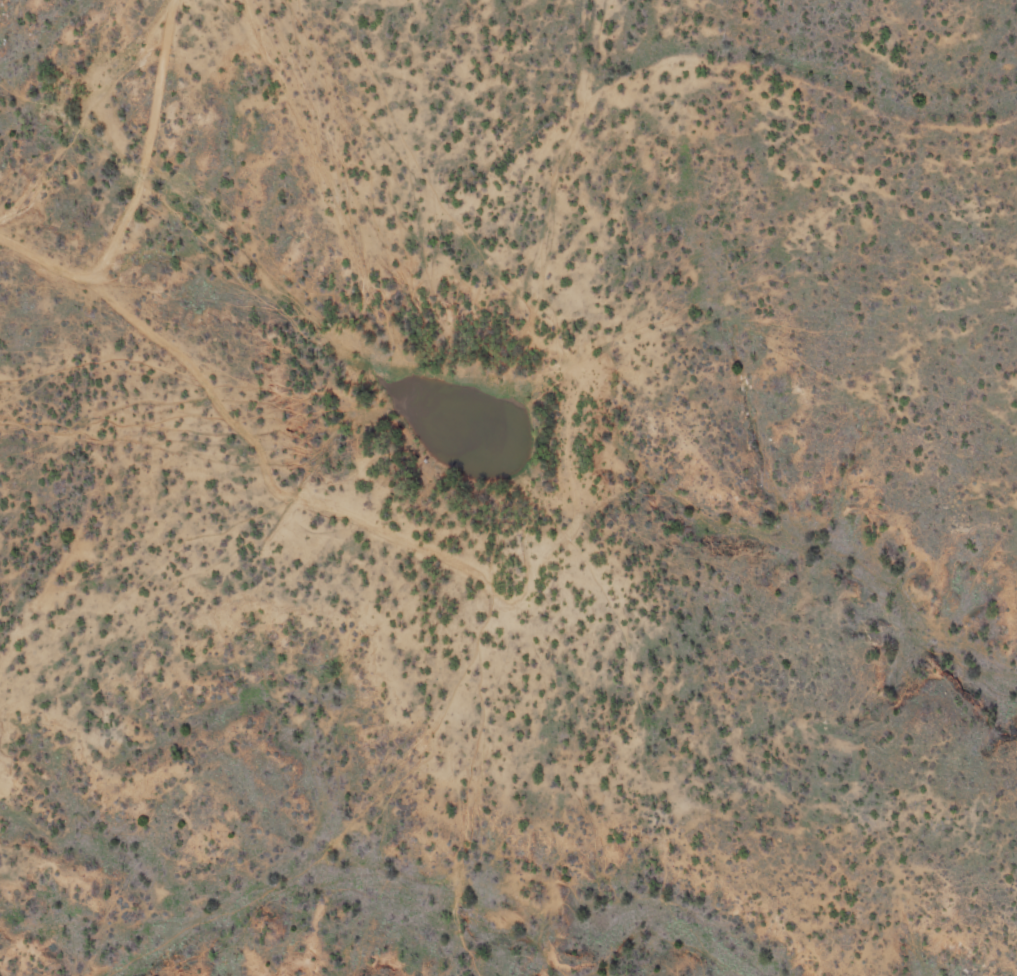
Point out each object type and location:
road: (91, 123)

